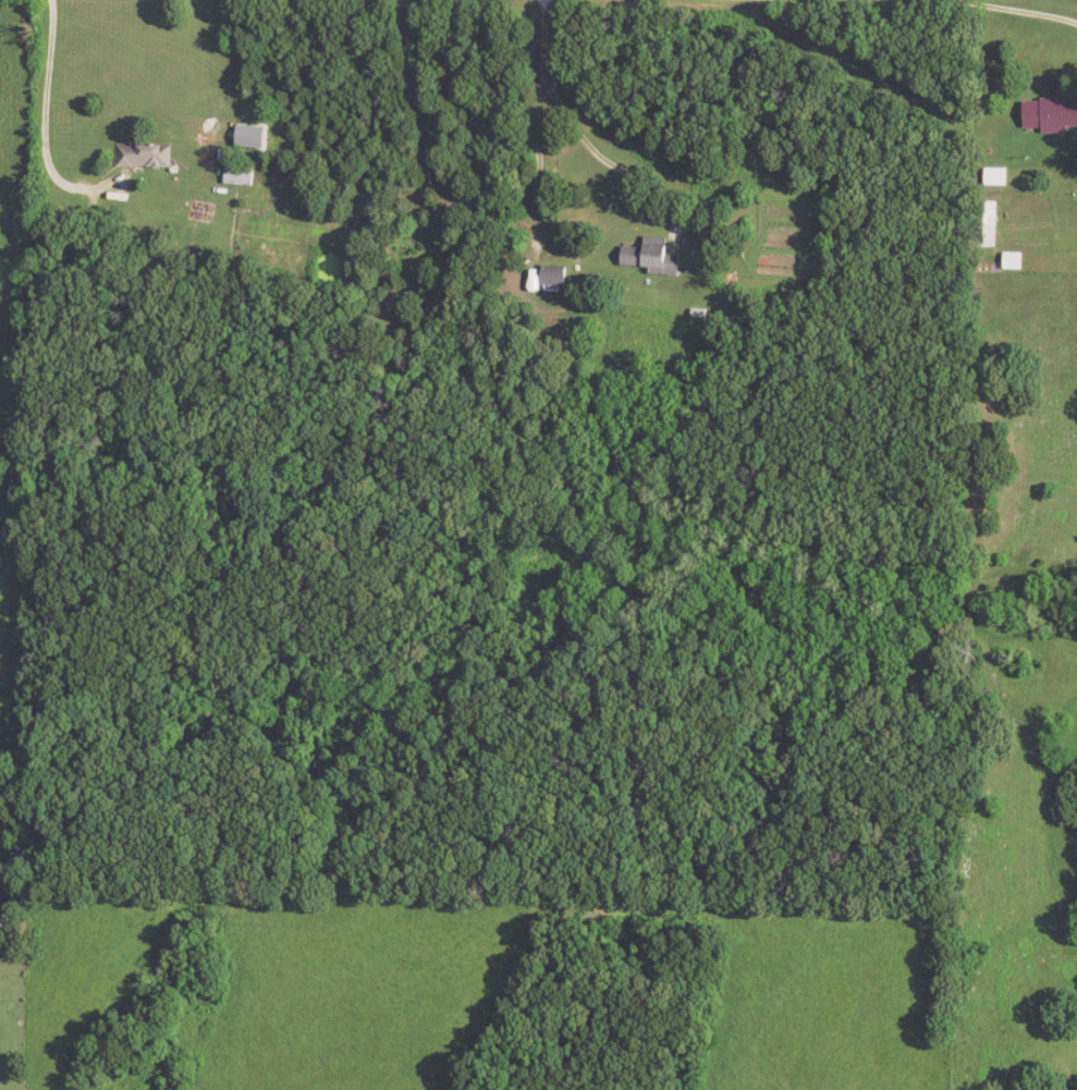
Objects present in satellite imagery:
road: (1020, 12)
building: (1044, 115)
road: (35, 127)
road: (538, 130)
building: (254, 137)
building: (145, 157)
road: (616, 170)
building: (990, 176)
building: (241, 179)
building: (983, 223)
building: (651, 258)
building: (554, 275)

